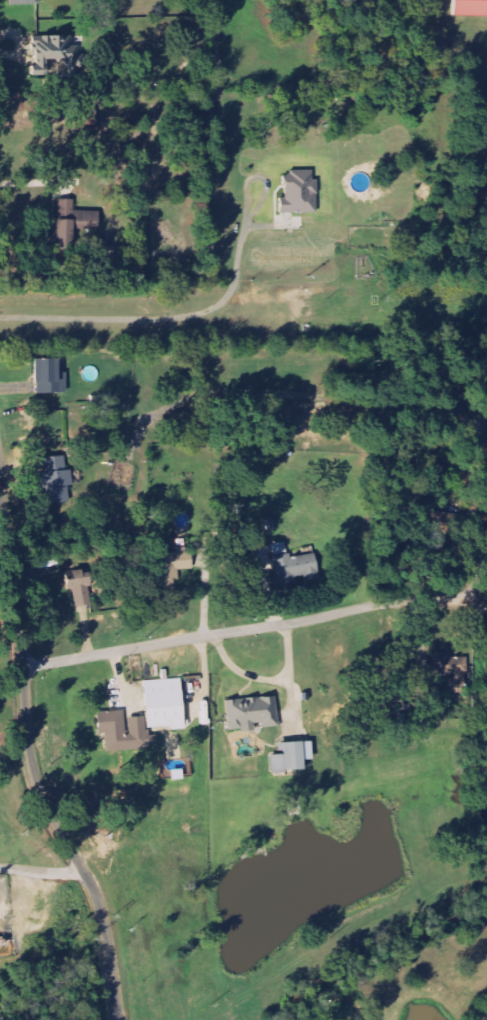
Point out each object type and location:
building: (25, 3)
building: (472, 8)
building: (58, 55)
building: (301, 194)
building: (75, 223)
road: (155, 317)
building: (52, 376)
building: (58, 480)
road: (1, 502)
building: (439, 518)
building: (174, 566)
building: (293, 567)
road: (477, 581)
building: (81, 589)
road: (254, 629)
building: (453, 672)
building: (166, 704)
building: (253, 714)
building: (126, 733)
road: (31, 755)
building: (293, 757)
road: (43, 872)

